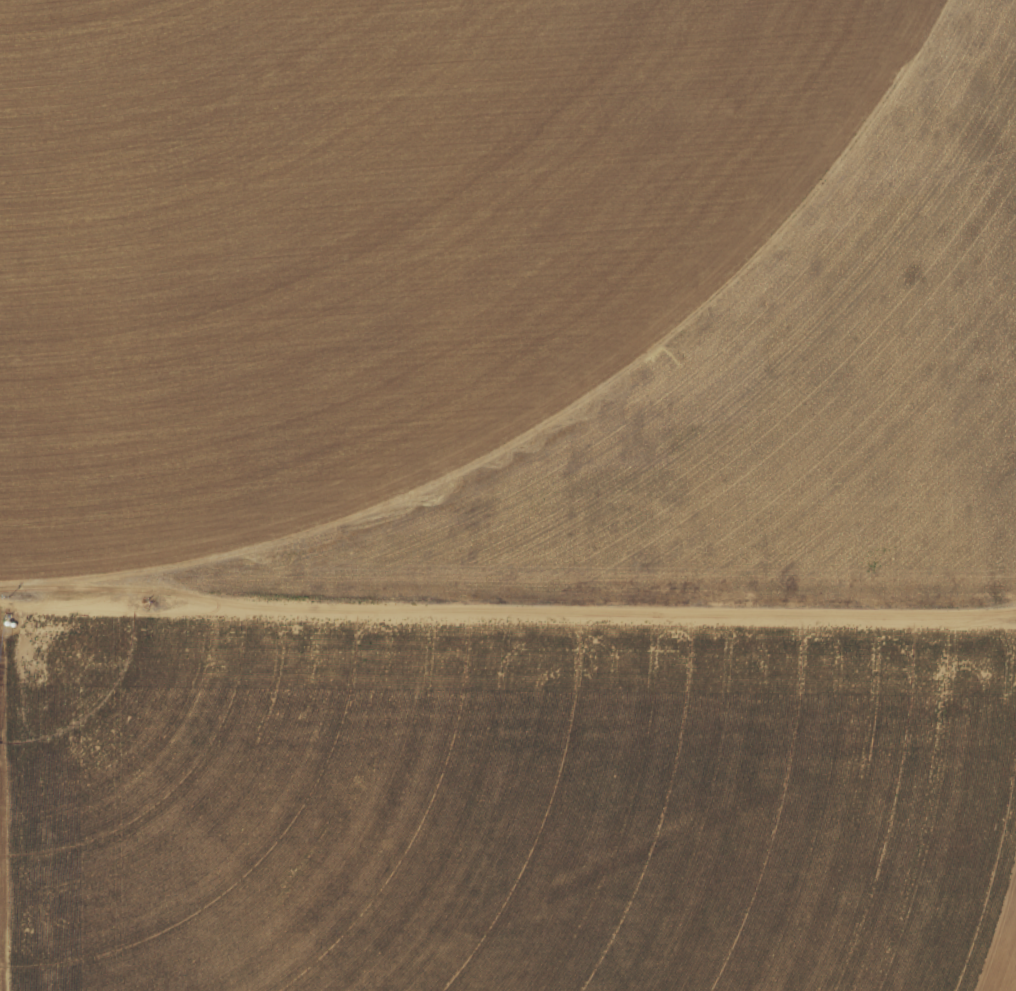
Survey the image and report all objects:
road: (508, 598)

